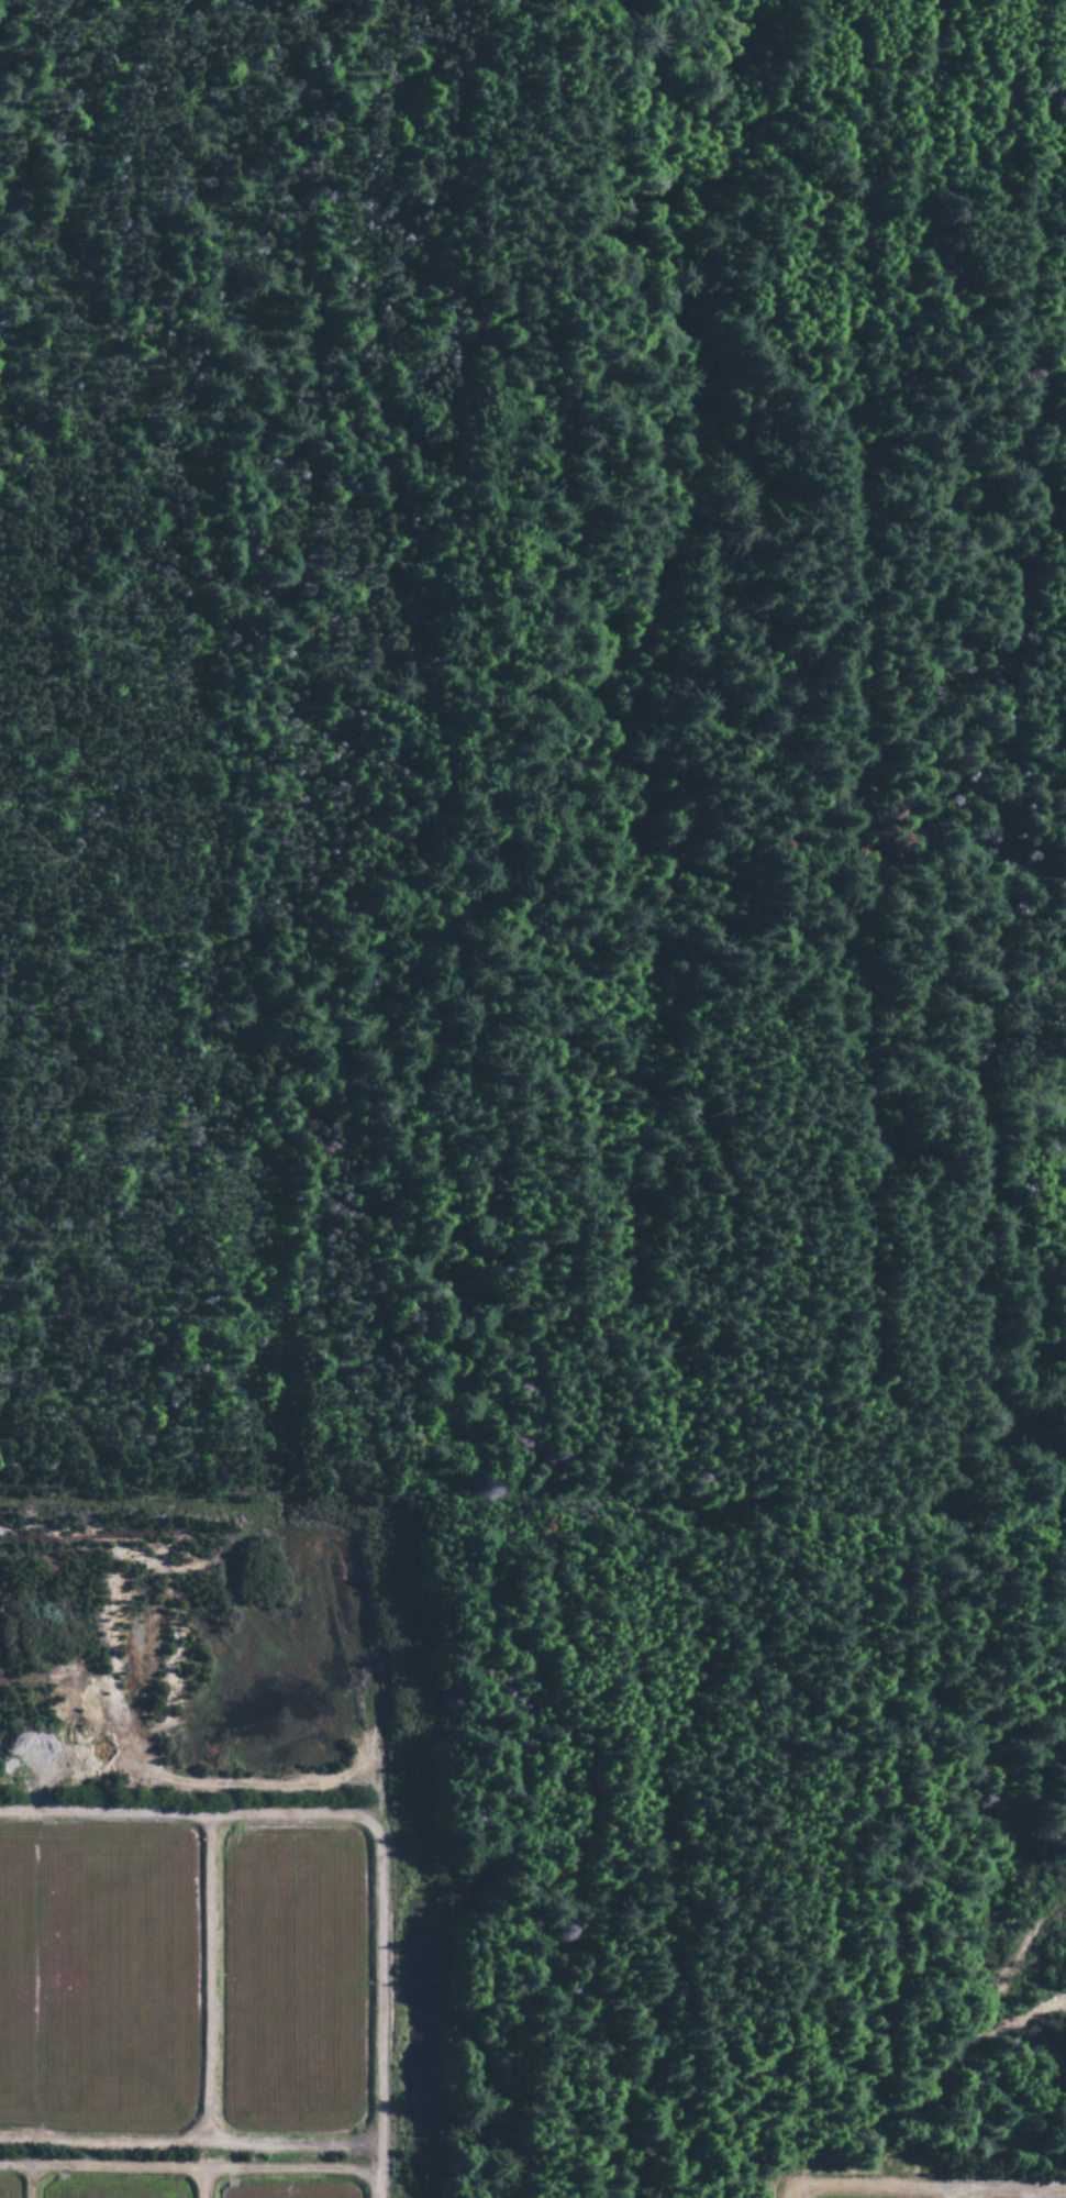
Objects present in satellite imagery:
crop: (8, 1975)
crop: (118, 1979)
crop: (291, 1982)
crop: (111, 2190)
crop: (290, 2193)
crop: (5, 2194)

